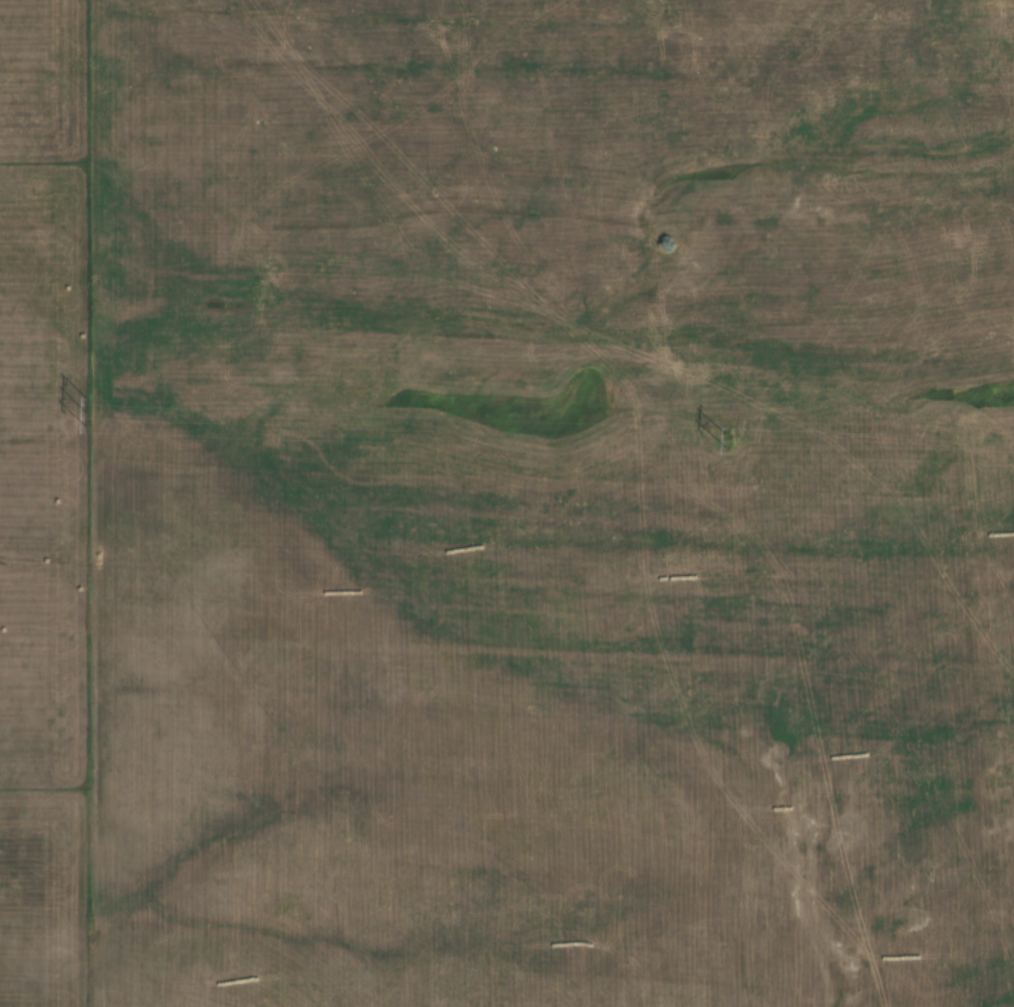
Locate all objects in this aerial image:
power tower: (86, 412)
power tower: (722, 441)

